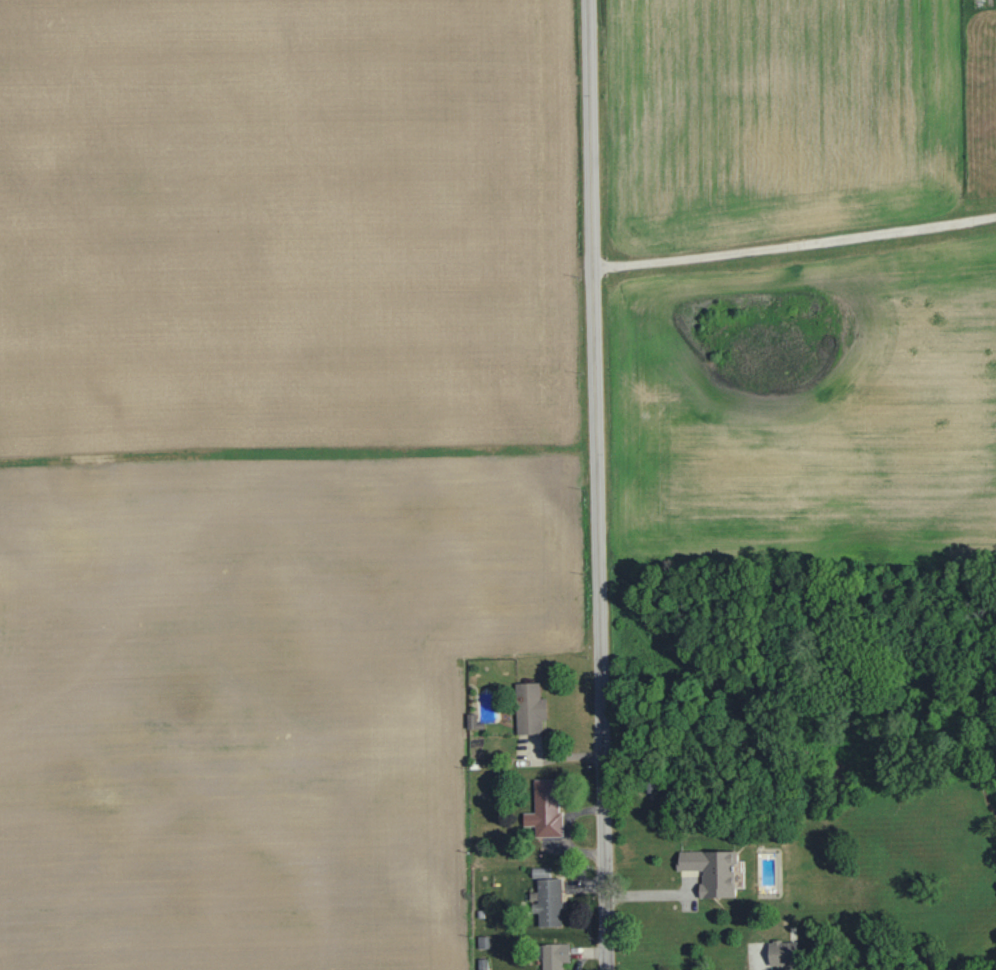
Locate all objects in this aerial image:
road: (795, 245)
road: (595, 327)
building: (529, 708)
building: (472, 721)
road: (605, 787)
building: (544, 810)
building: (712, 872)
building: (547, 898)
road: (608, 944)
building: (781, 952)
building: (554, 955)

